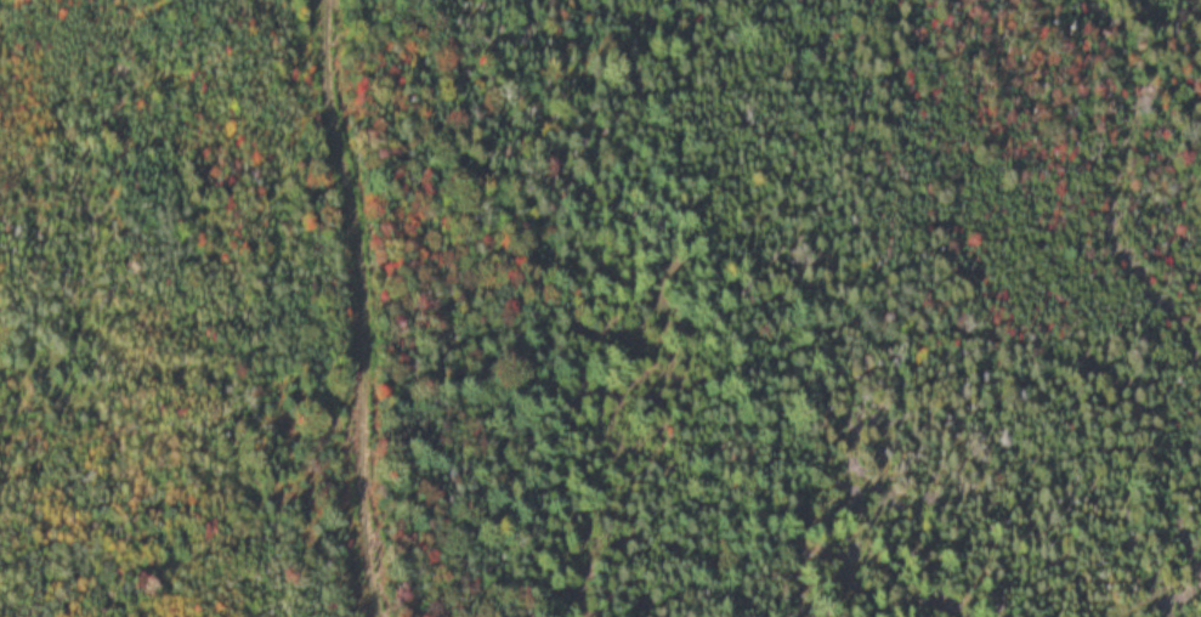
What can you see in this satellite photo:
road: (358, 307)

